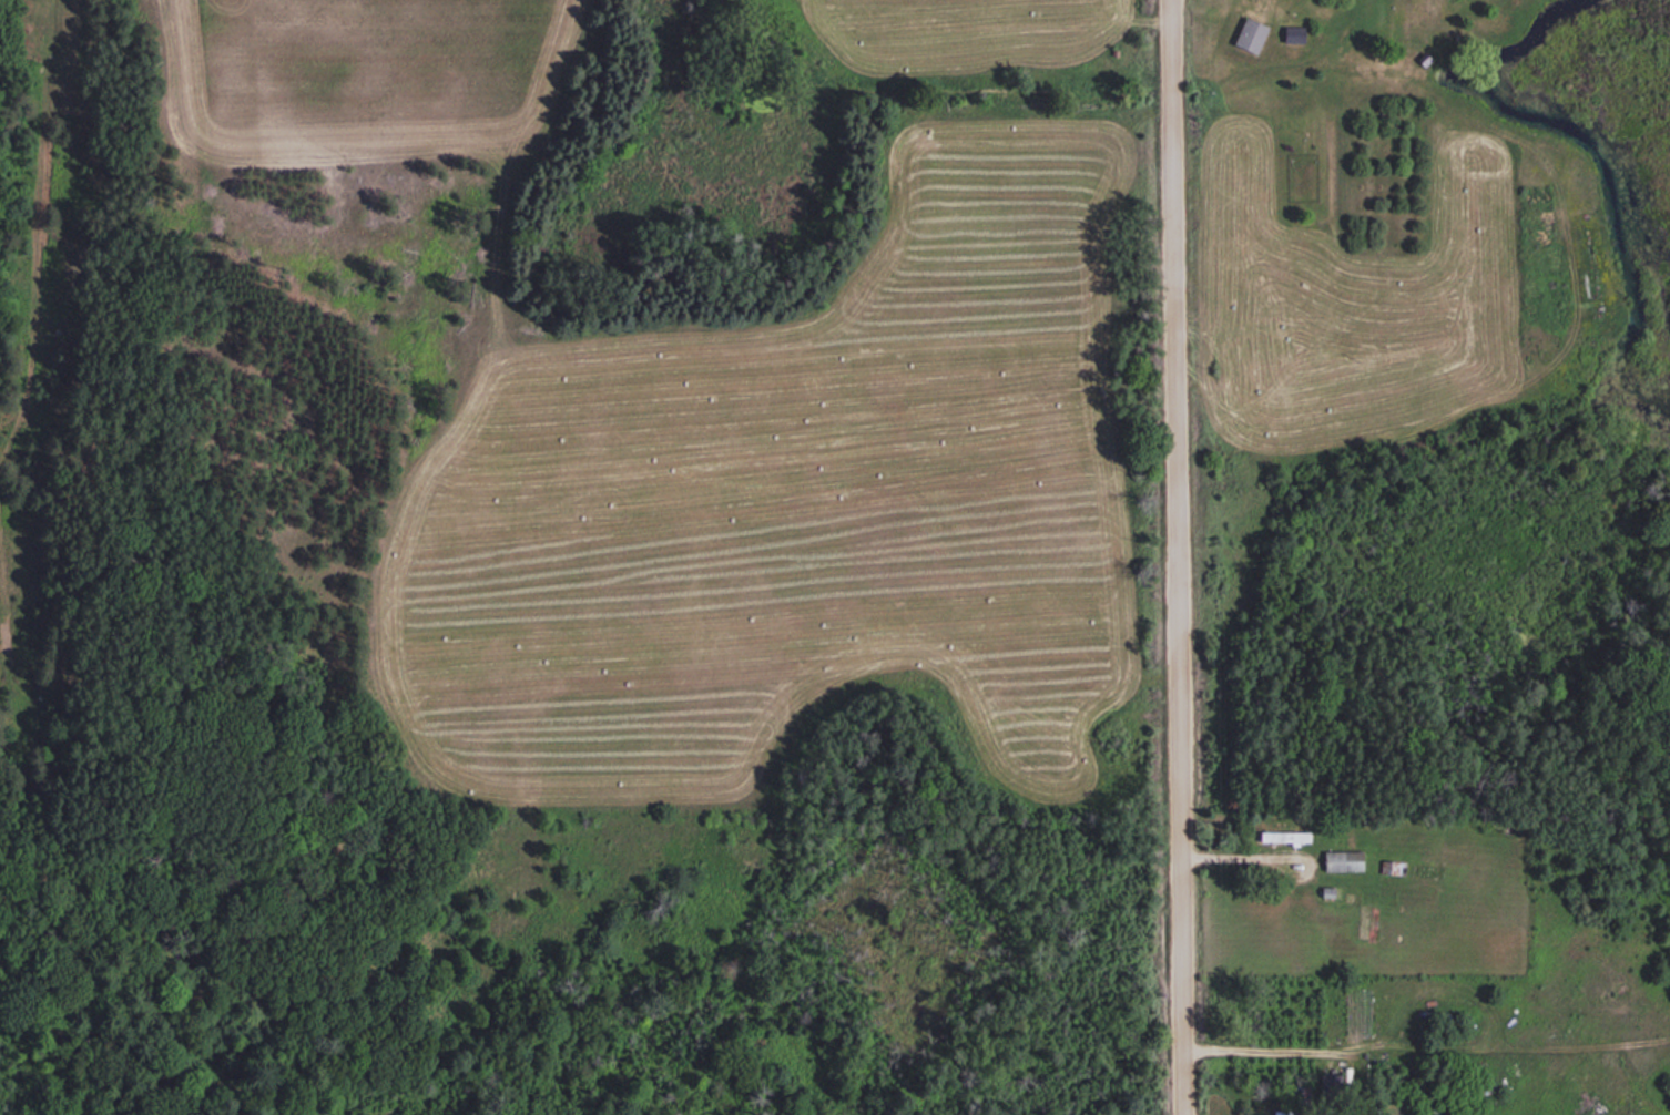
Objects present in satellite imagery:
building: (1249, 37)
road: (1181, 557)
building: (1283, 837)
building: (1342, 861)
building: (1389, 868)
building: (1328, 1082)
building: (1300, 1098)
building: (1260, 1114)

